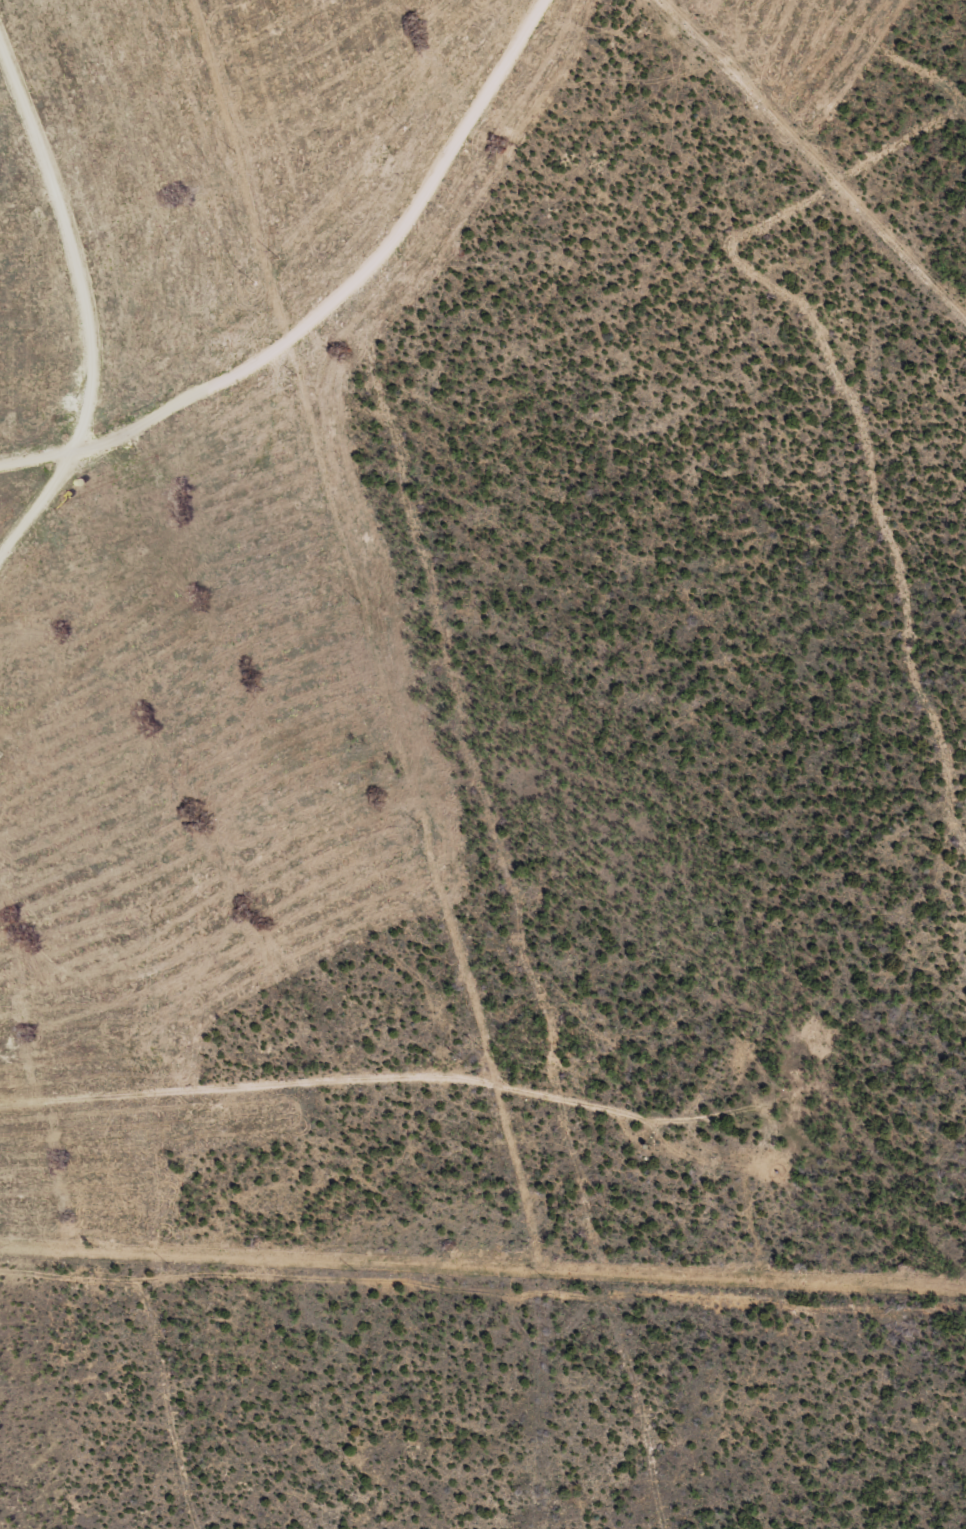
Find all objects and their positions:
road: (90, 291)

